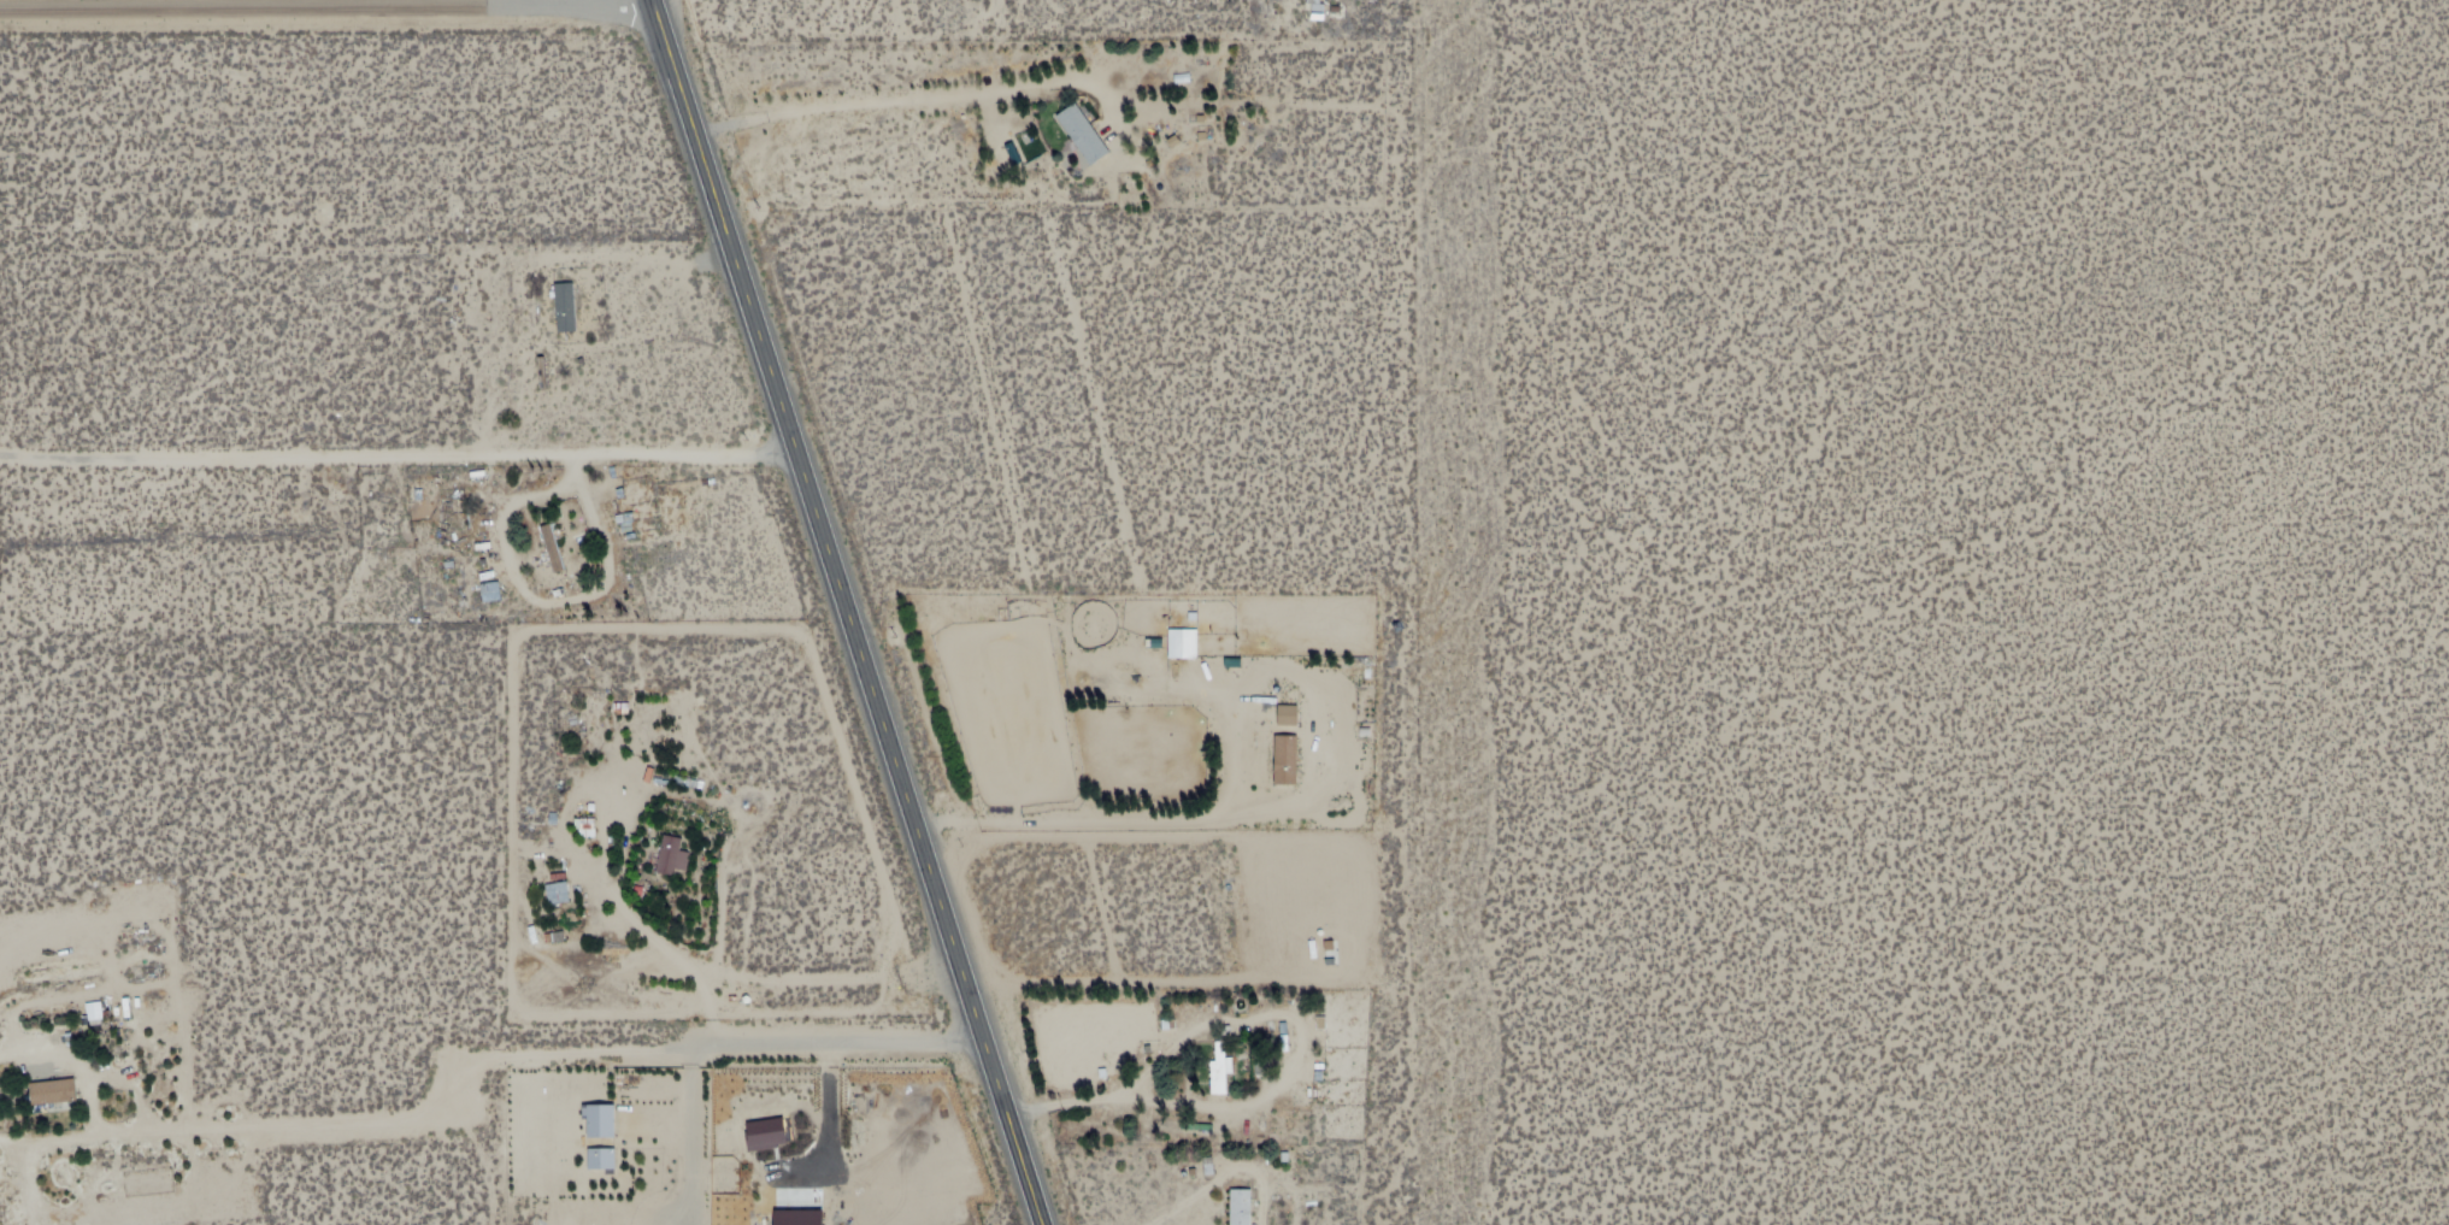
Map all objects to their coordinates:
road: (569, 12)
road: (242, 13)
building: (1085, 135)
building: (564, 311)
road: (398, 455)
building: (547, 547)
building: (489, 593)
road: (846, 612)
building: (1178, 643)
building: (1283, 714)
building: (587, 830)
building: (675, 860)
building: (559, 893)
road: (844, 1049)
building: (1215, 1068)
building: (1225, 1070)
building: (51, 1093)
building: (595, 1120)
building: (760, 1133)
building: (596, 1158)
building: (1242, 1208)
building: (791, 1217)

